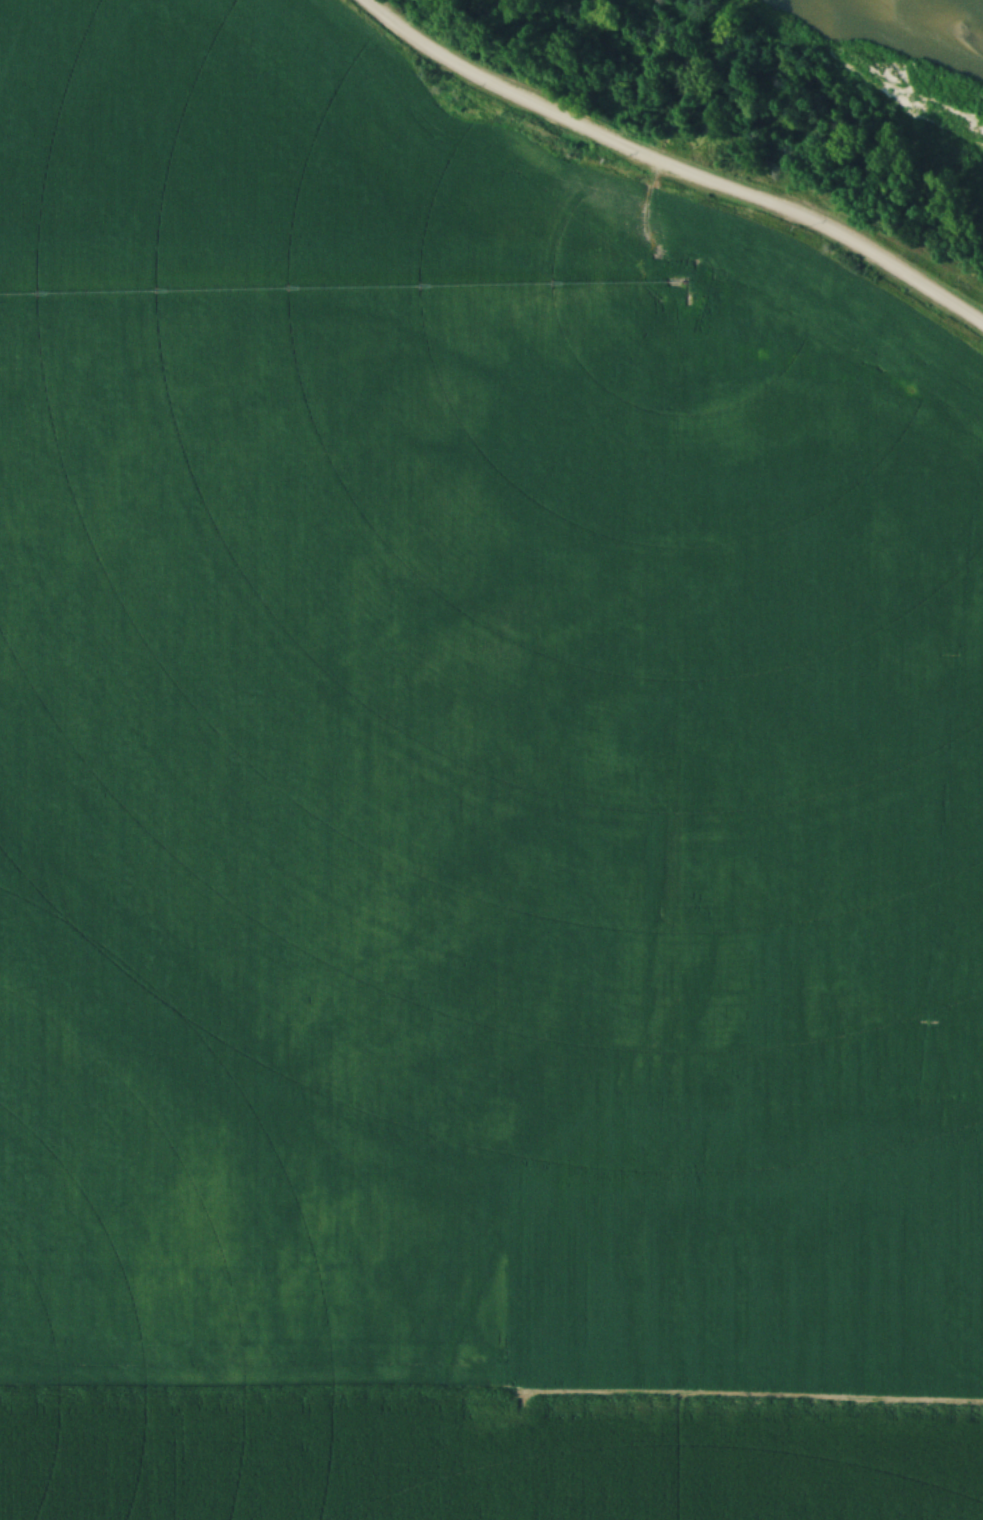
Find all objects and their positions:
river: (941, 22)
road: (664, 172)

